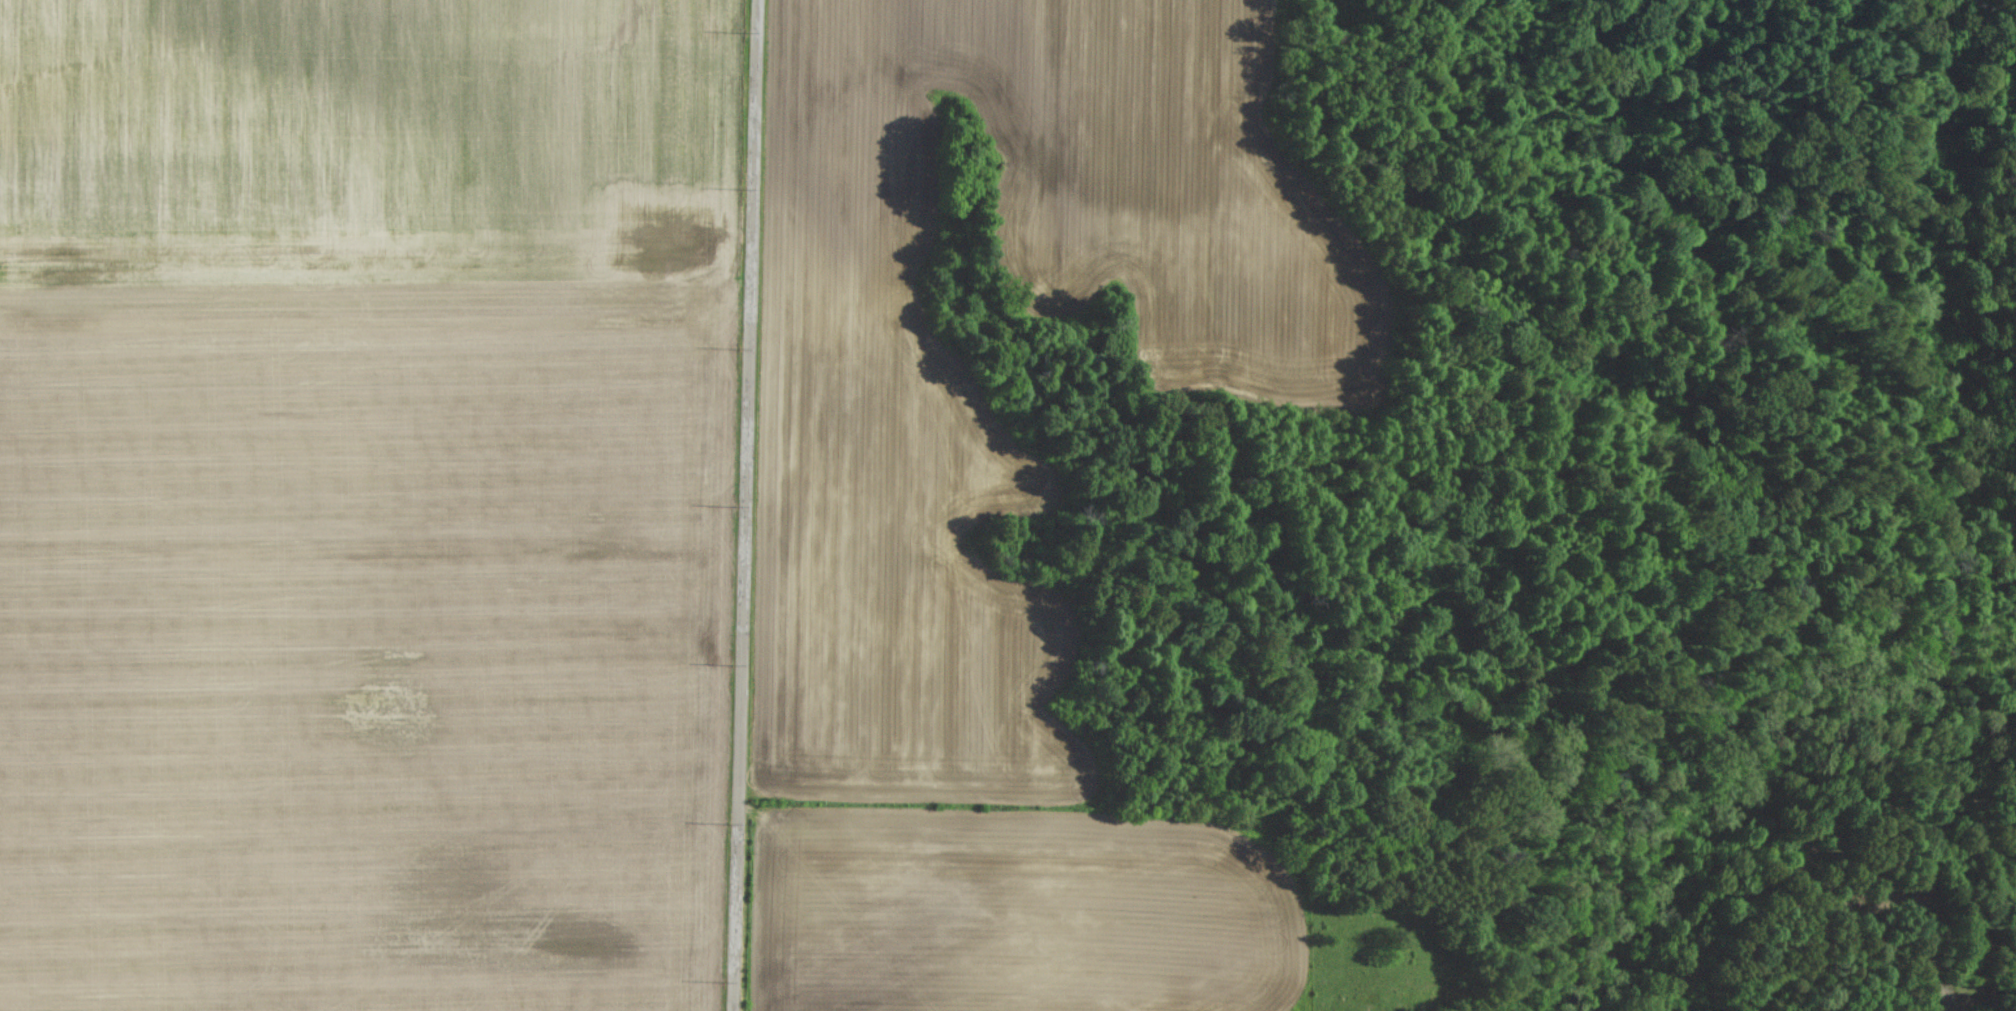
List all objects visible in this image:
road: (738, 505)

